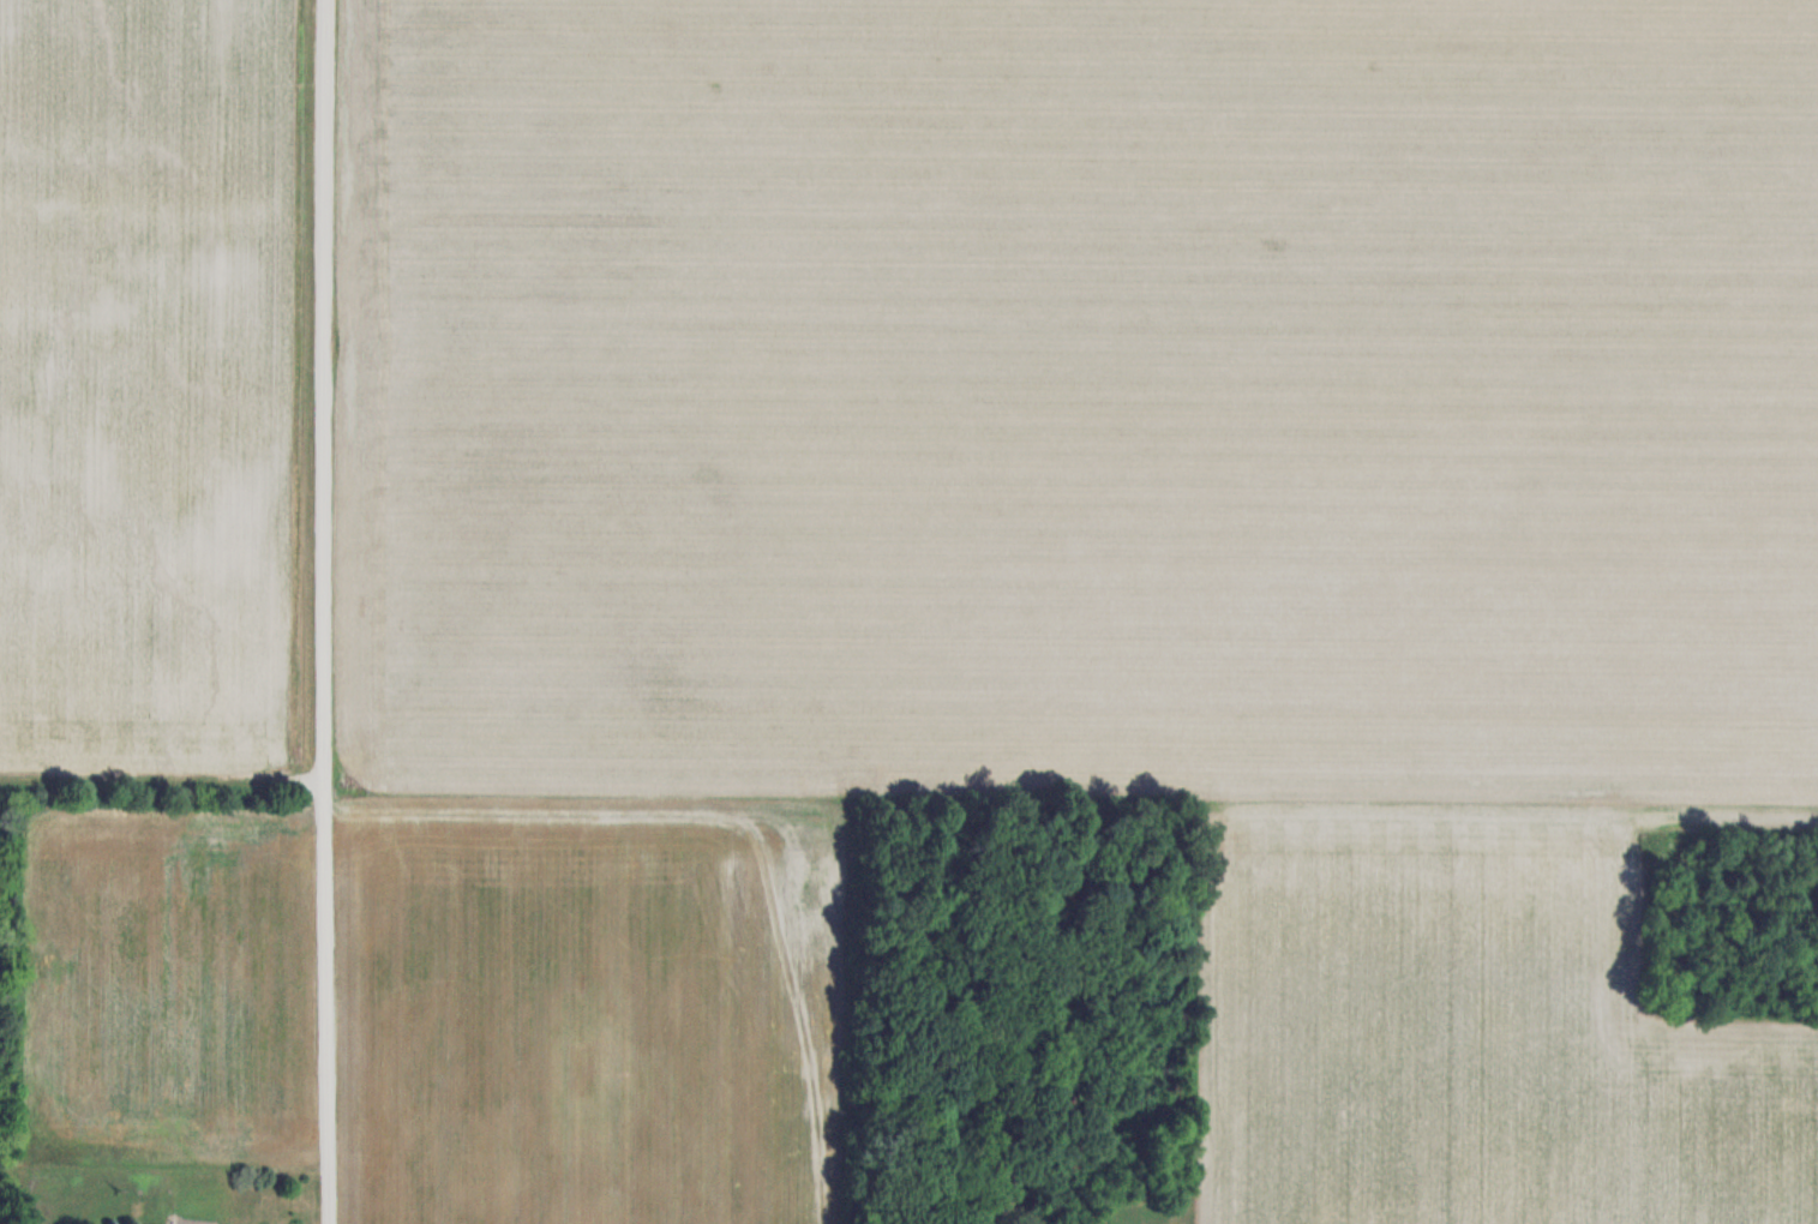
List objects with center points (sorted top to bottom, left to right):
crop: (144, 385)
road: (323, 612)
crop: (167, 989)

